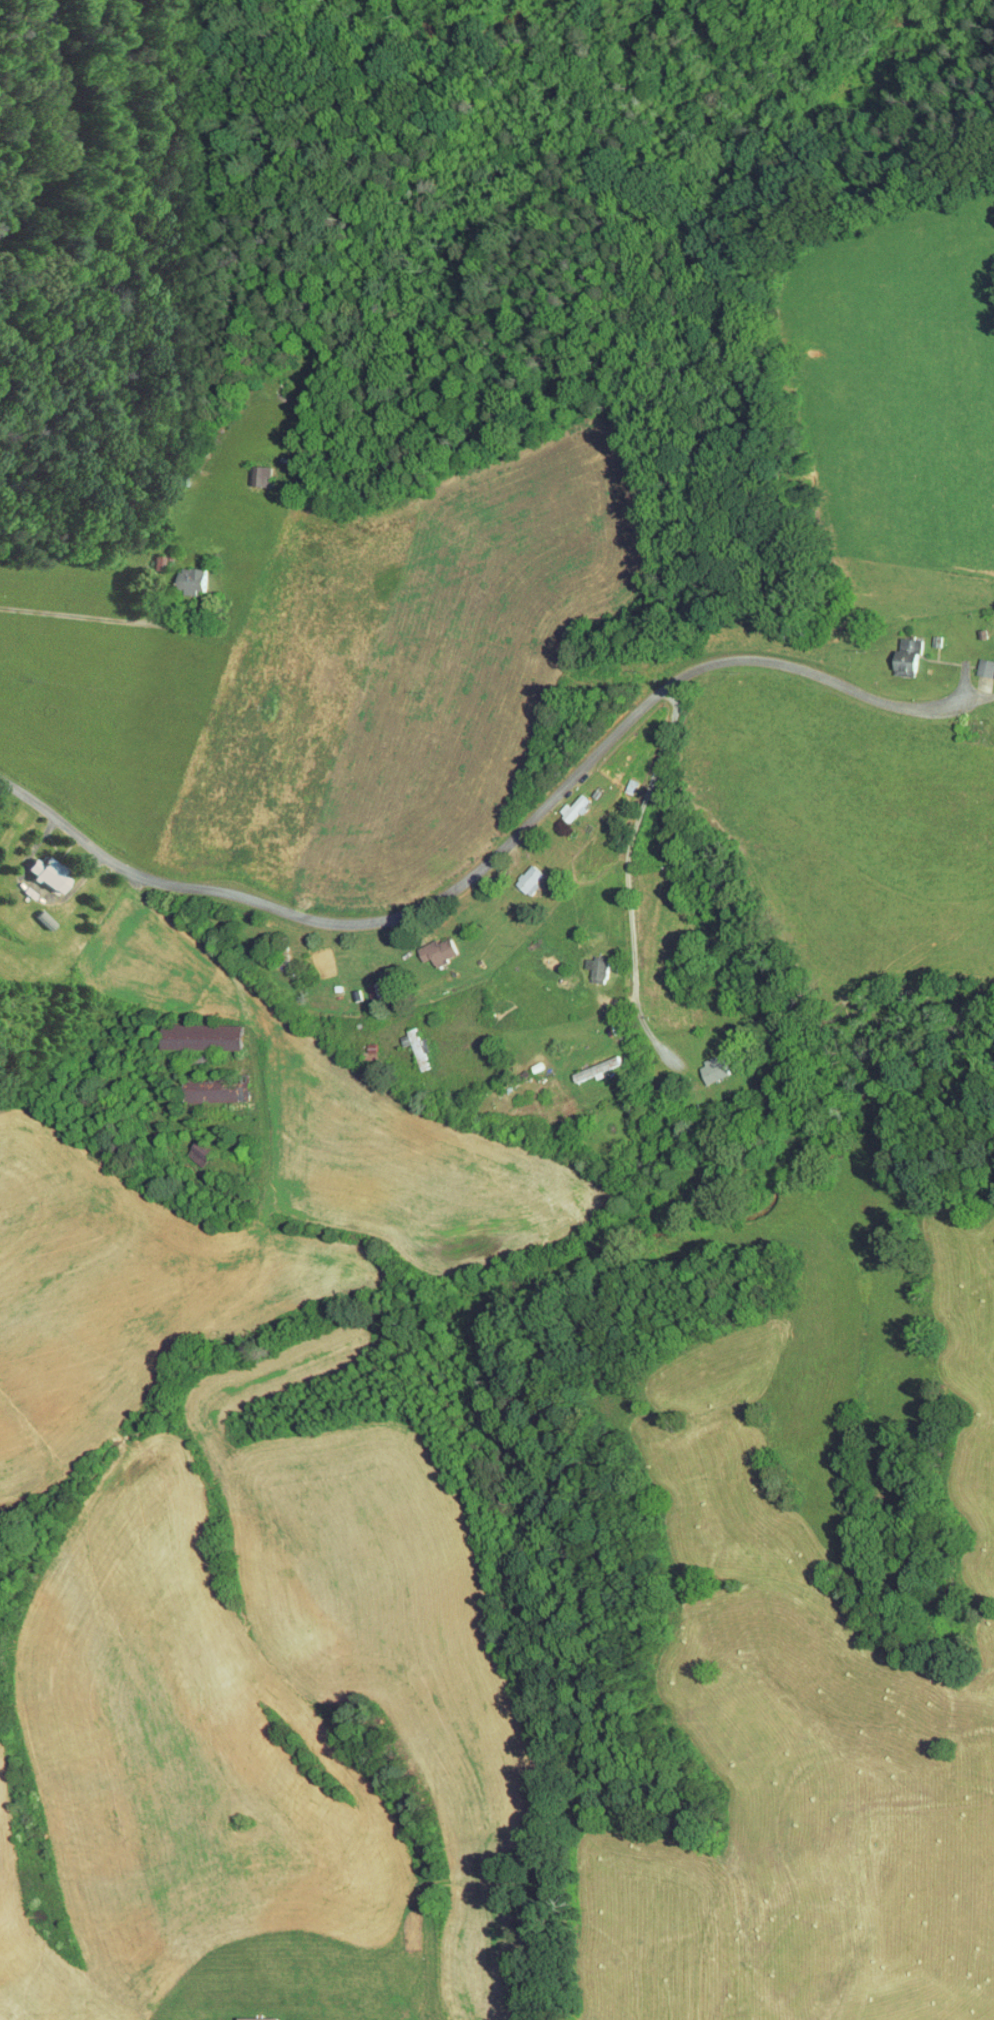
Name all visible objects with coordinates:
road: (57, 115)
building: (247, 470)
building: (174, 575)
road: (80, 615)
building: (972, 661)
building: (989, 665)
building: (565, 802)
road: (501, 848)
building: (42, 867)
building: (523, 872)
road: (627, 877)
building: (431, 944)
building: (588, 961)
building: (195, 1030)
building: (405, 1038)
building: (589, 1062)
building: (706, 1062)
building: (190, 1148)
building: (252, 2015)

